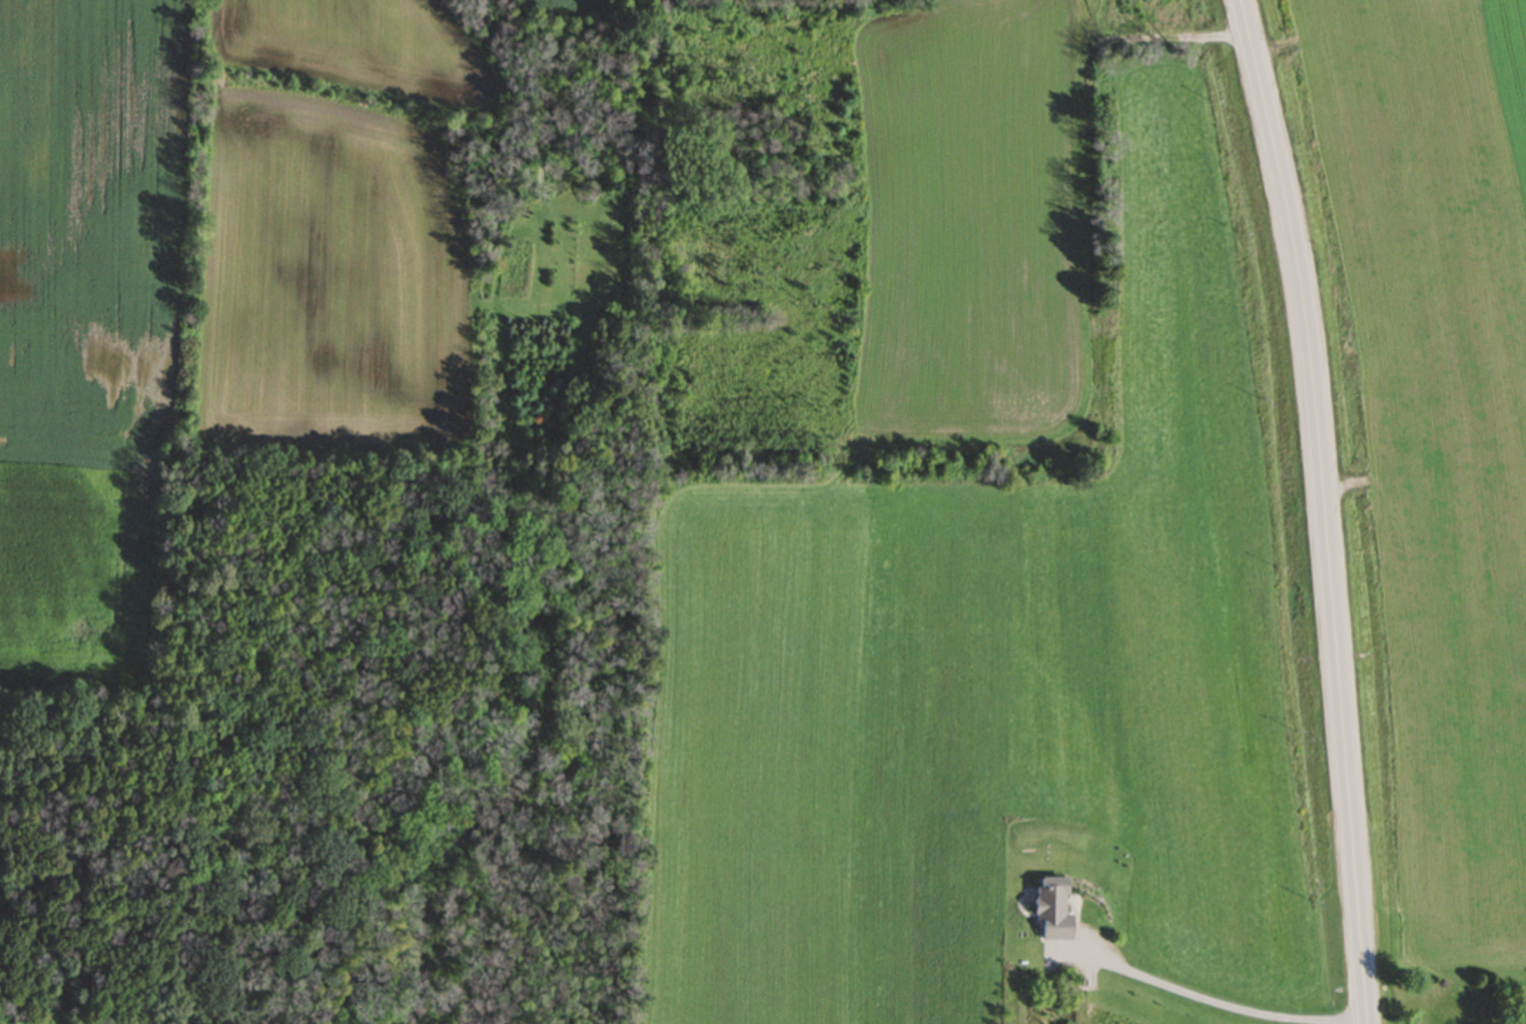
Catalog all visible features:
road: (1325, 509)
building: (1049, 912)
road: (1147, 1000)

